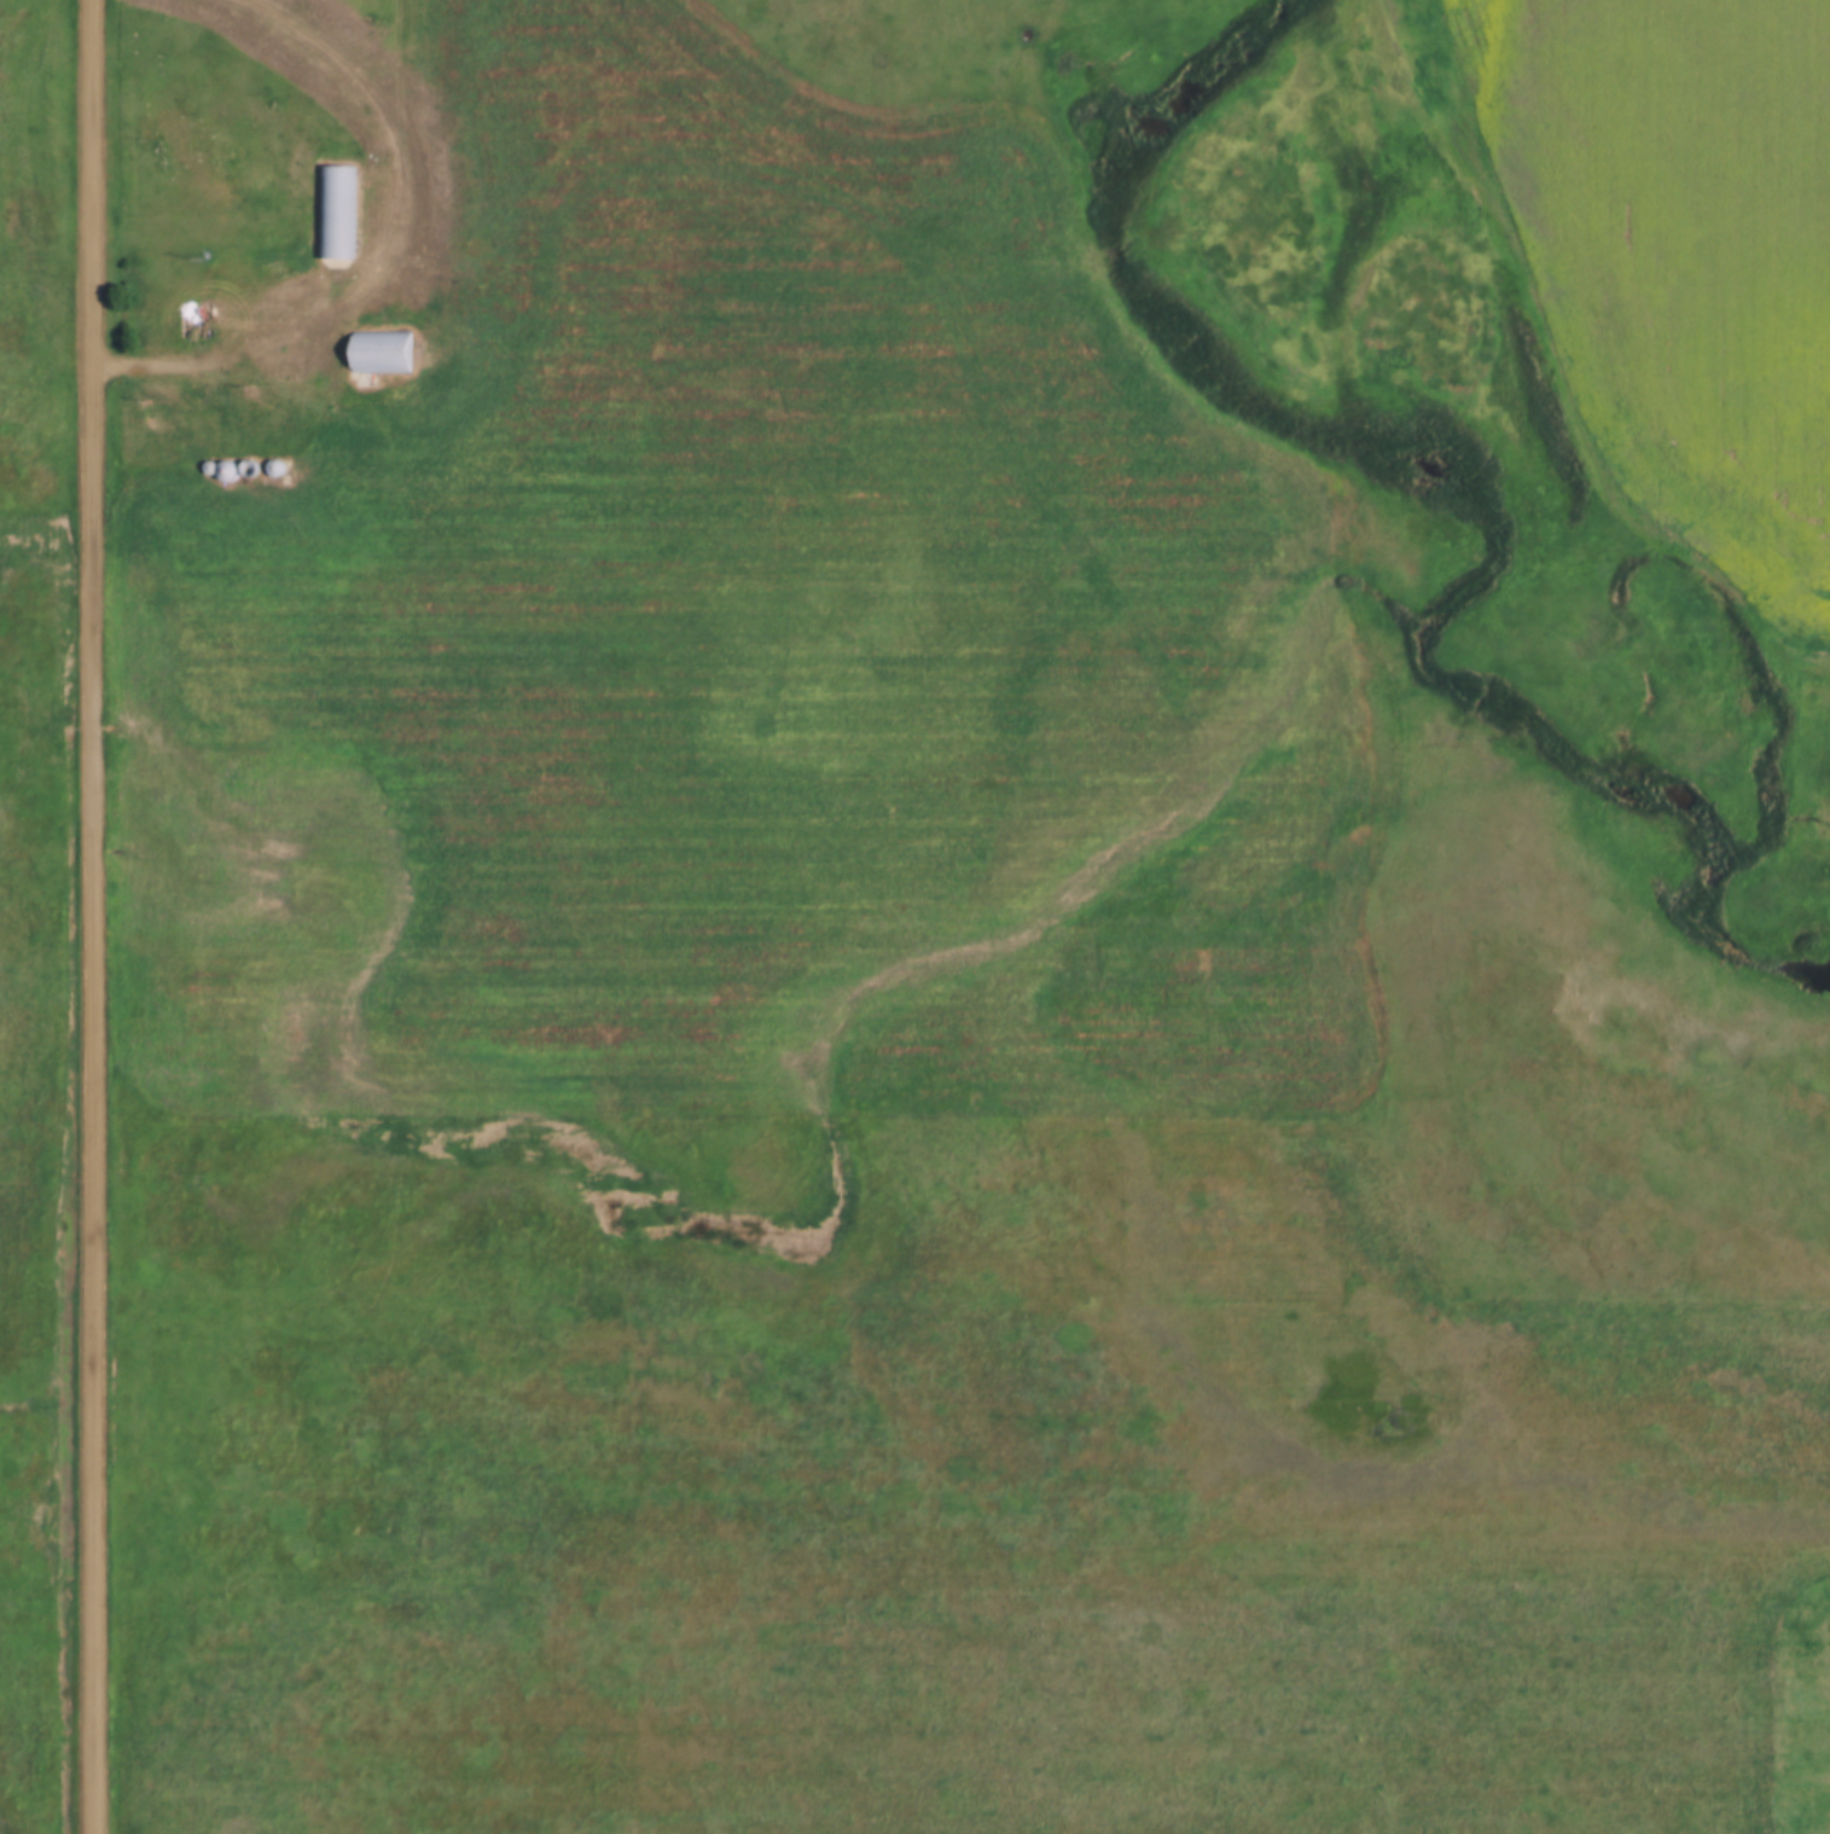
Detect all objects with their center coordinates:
building: (337, 214)
building: (387, 354)
road: (221, 367)
road: (91, 916)

